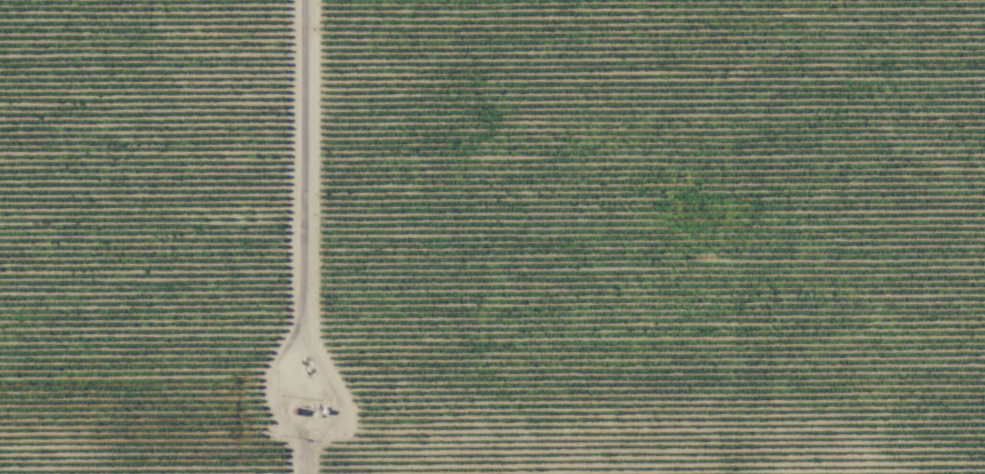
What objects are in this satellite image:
road: (302, 457)

